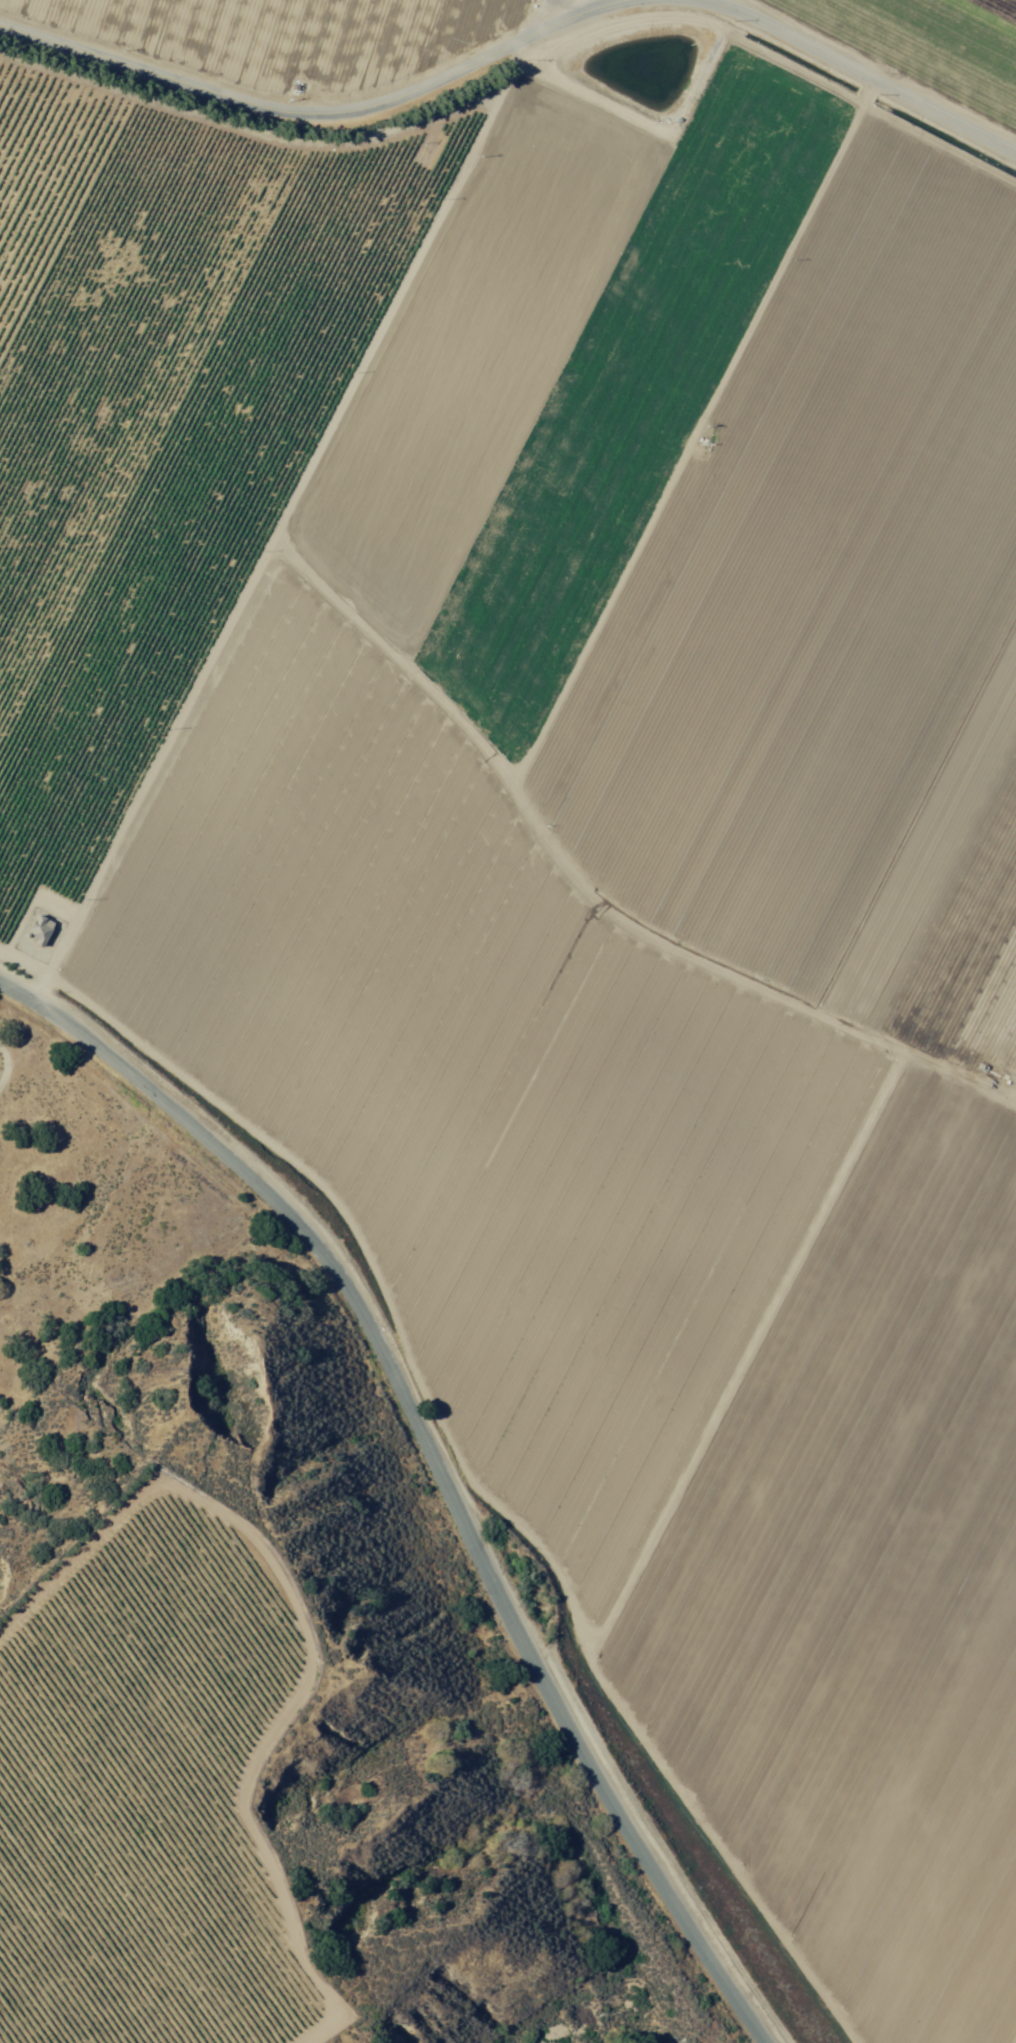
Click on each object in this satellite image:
road: (554, 18)
road: (517, 47)
road: (439, 1464)
crop: (149, 1787)

